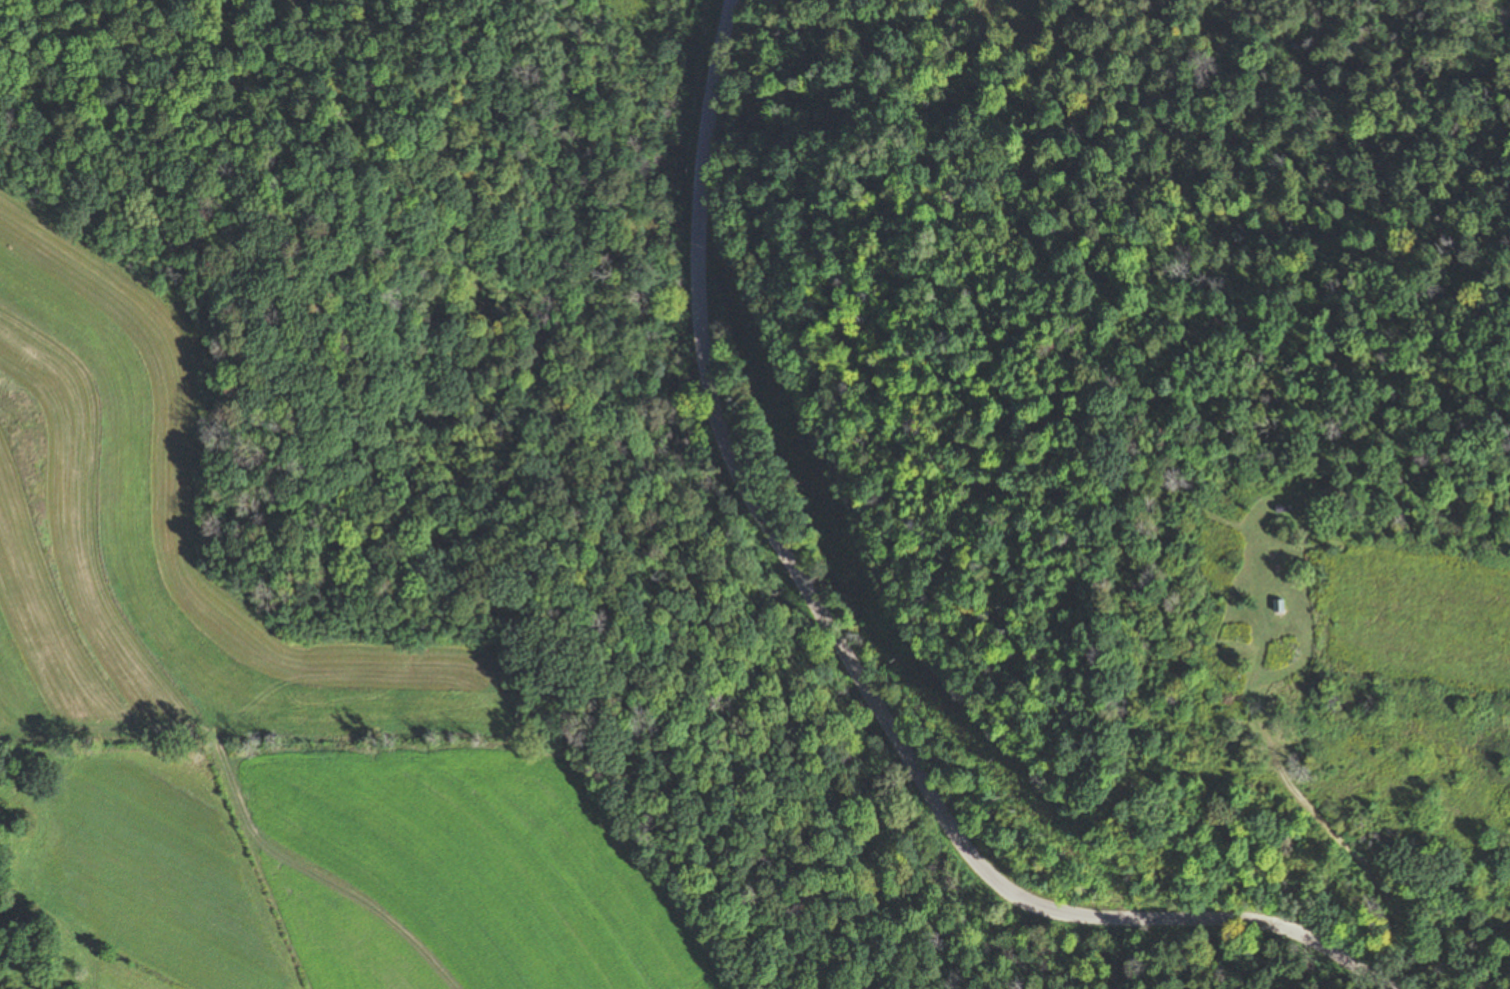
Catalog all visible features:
road: (845, 653)

